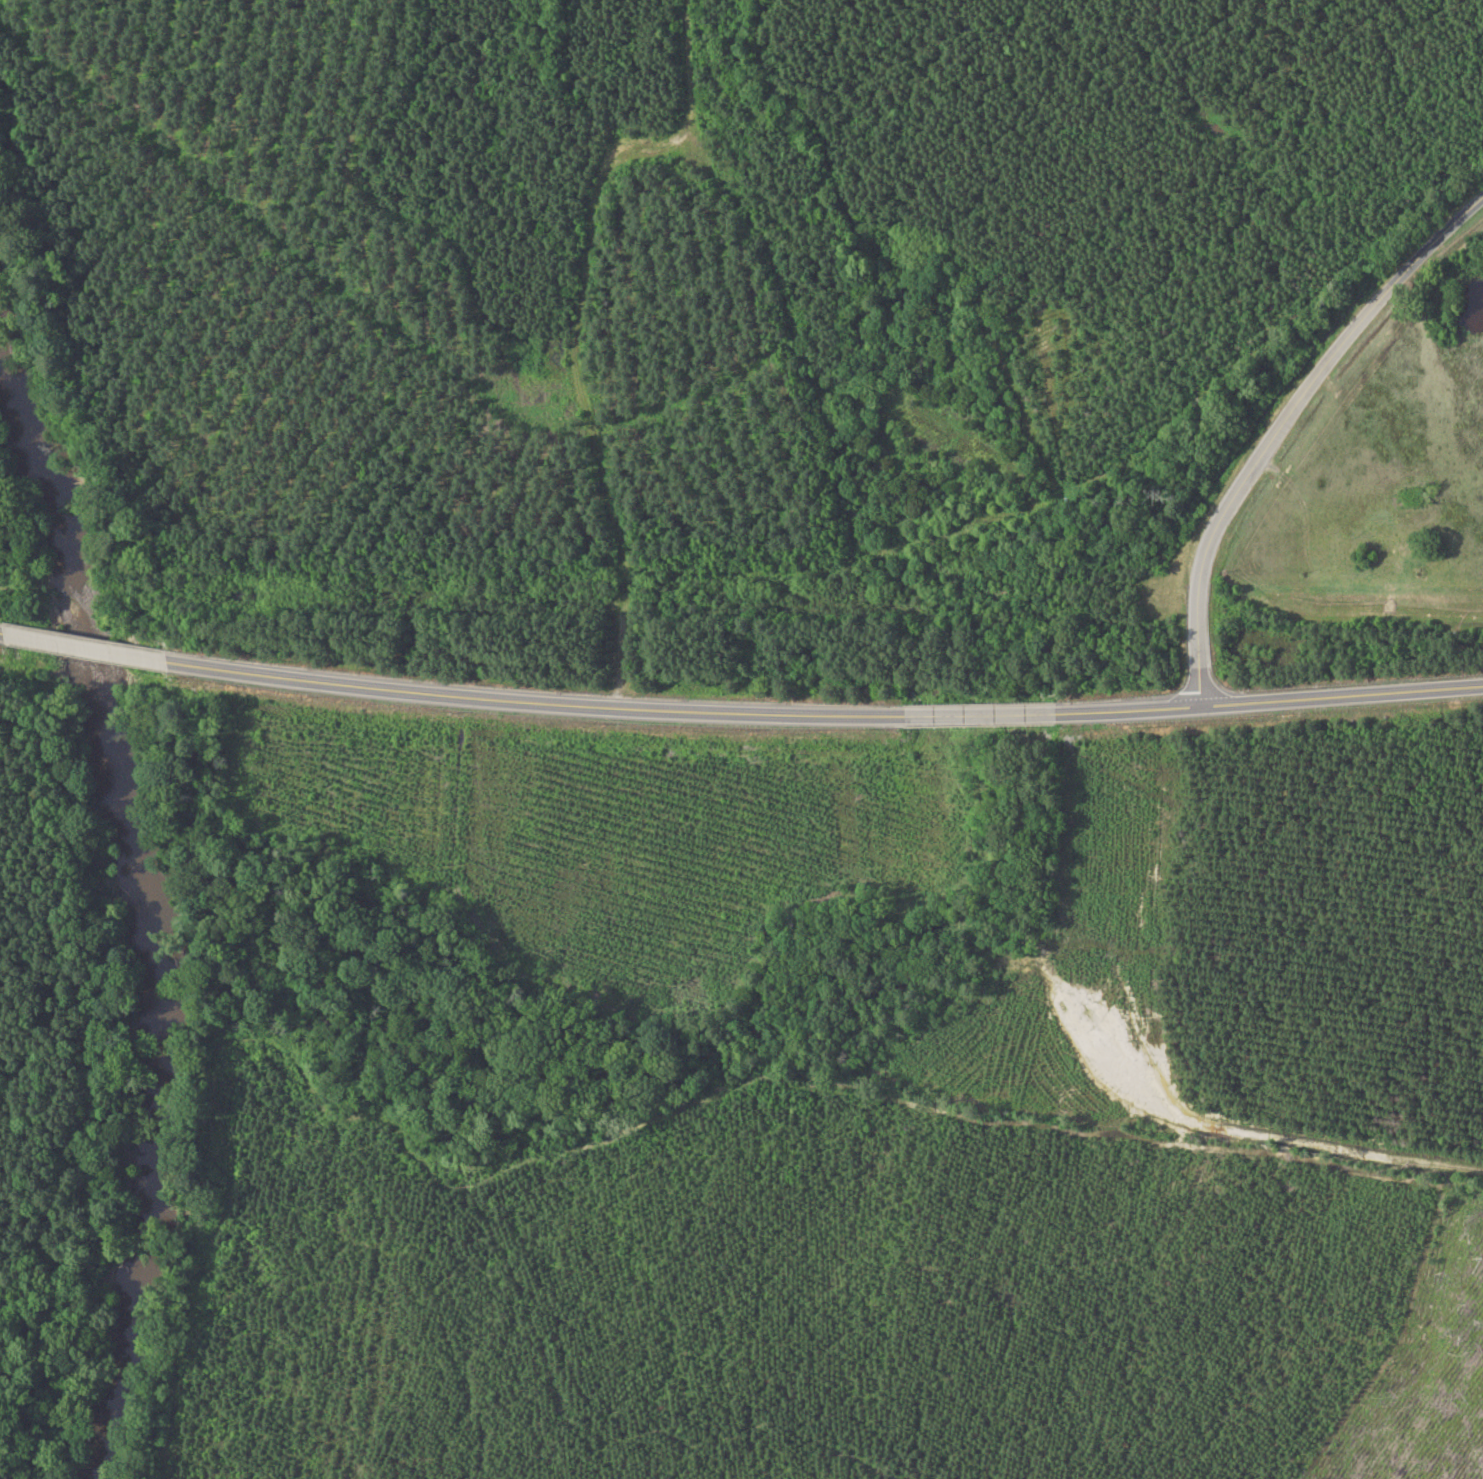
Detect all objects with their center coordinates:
road: (1282, 423)
road: (96, 646)
road: (836, 713)
river: (147, 928)

